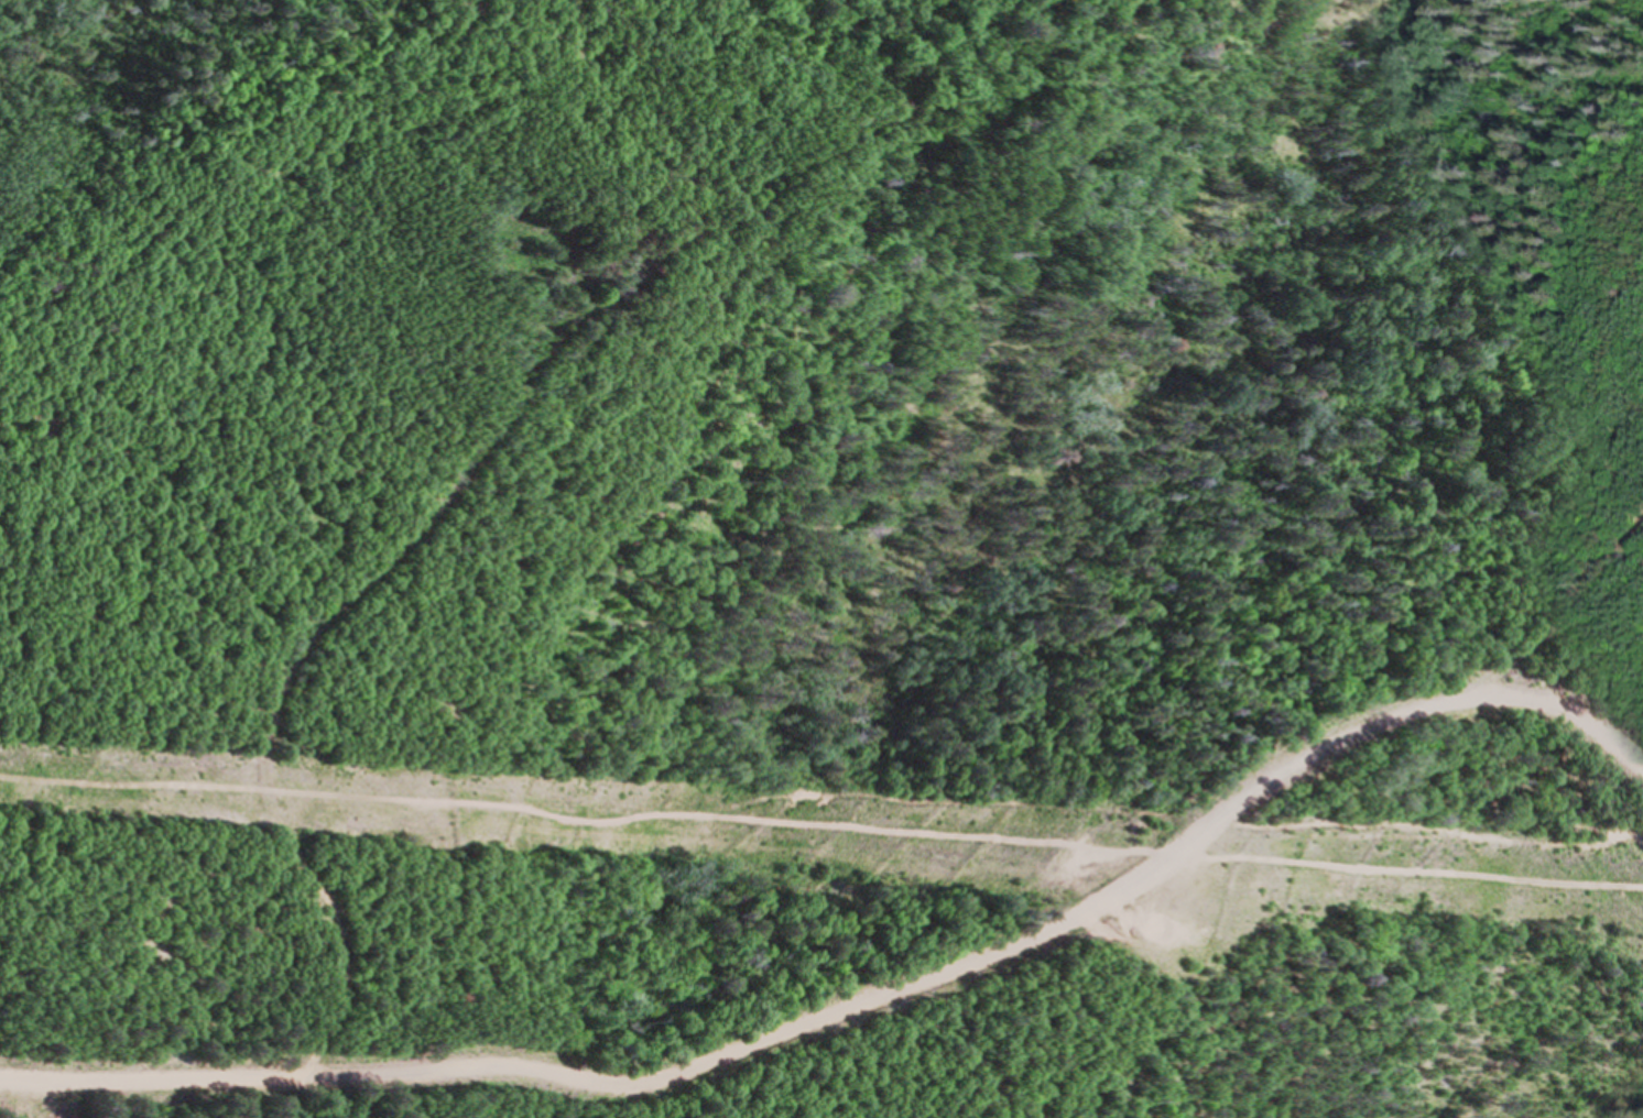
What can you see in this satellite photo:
road: (821, 826)
road: (863, 1000)

